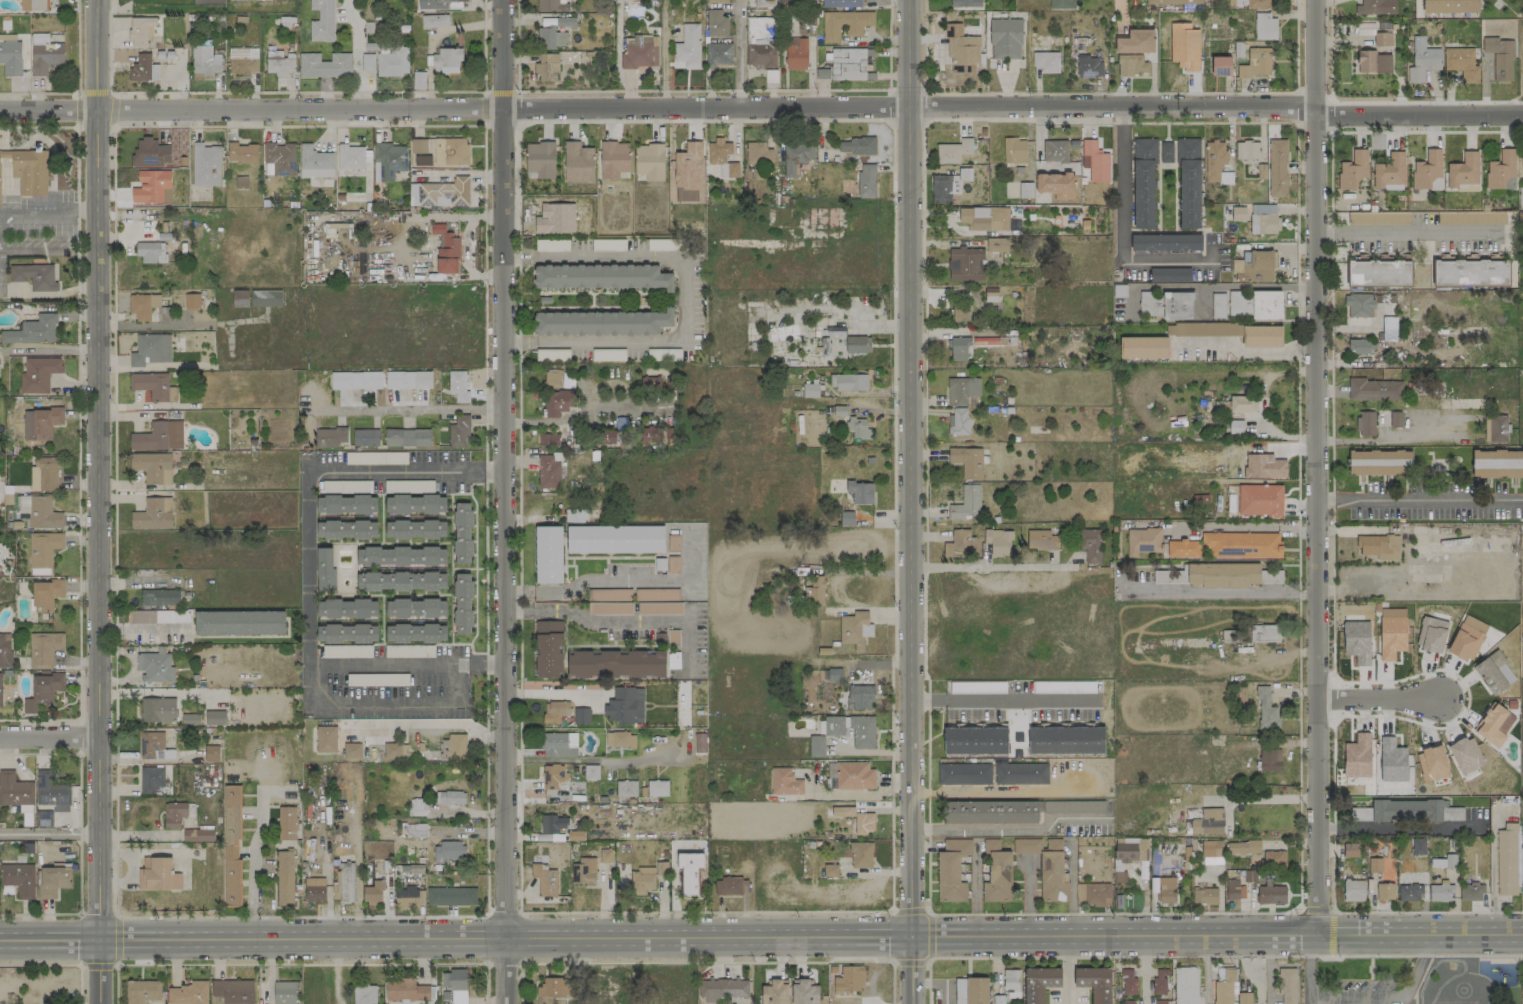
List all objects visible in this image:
building: (232, 0)
building: (717, 1)
building: (1174, 2)
building: (840, 3)
building: (1254, 3)
building: (435, 4)
building: (1061, 4)
building: (32, 5)
building: (551, 5)
building: (1449, 5)
building: (1376, 7)
road: (361, 13)
building: (321, 21)
building: (434, 21)
building: (716, 23)
building: (845, 24)
building: (1265, 27)
building: (140, 30)
building: (550, 36)
building: (7, 37)
building: (1005, 39)
building: (1382, 39)
building: (1176, 40)
building: (1135, 41)
building: (760, 43)
road: (76, 45)
road: (483, 45)
road: (890, 45)
road: (517, 46)
building: (687, 48)
building: (1191, 48)
building: (963, 50)
building: (640, 52)
road: (737, 53)
building: (44, 54)
building: (796, 54)
building: (718, 55)
building: (10, 58)
road: (354, 58)
building: (1500, 58)
building: (204, 60)
building: (446, 60)
building: (1422, 60)
building: (243, 61)
building: (1046, 61)
building: (279, 62)
building: (367, 62)
building: (393, 62)
building: (1373, 62)
building: (1256, 63)
building: (1461, 63)
building: (850, 64)
building: (1131, 65)
building: (324, 66)
building: (1220, 66)
building: (547, 67)
building: (1089, 67)
building: (140, 68)
road: (92, 90)
road: (705, 90)
road: (250, 92)
road: (484, 92)
road: (762, 107)
road: (76, 110)
road: (113, 111)
road: (1292, 122)
road: (519, 125)
building: (857, 146)
building: (1014, 150)
building: (1247, 150)
building: (953, 151)
building: (1055, 151)
building: (718, 152)
building: (1166, 152)
building: (150, 153)
building: (241, 153)
building: (439, 153)
building: (758, 153)
building: (350, 157)
building: (796, 157)
building: (280, 158)
building: (540, 159)
building: (613, 159)
building: (1214, 160)
building: (388, 161)
building: (649, 161)
building: (315, 162)
building: (578, 162)
building: (1094, 162)
building: (1522, 162)
building: (205, 165)
building: (1277, 168)
building: (732, 169)
building: (1353, 169)
building: (28, 170)
building: (1389, 171)
building: (1427, 171)
building: (1501, 171)
building: (687, 172)
building: (1463, 173)
building: (866, 180)
building: (1143, 182)
building: (1188, 183)
building: (1056, 185)
building: (948, 186)
building: (152, 188)
building: (1022, 192)
building: (440, 193)
road: (46, 210)
building: (1238, 213)
building: (555, 218)
building: (1377, 218)
building: (1471, 218)
building: (985, 219)
building: (1263, 219)
road: (1123, 230)
road: (1408, 234)
building: (1165, 242)
building: (996, 245)
building: (444, 249)
building: (151, 252)
building: (966, 264)
building: (1255, 266)
building: (1378, 273)
building: (1470, 273)
building: (34, 276)
building: (601, 277)
road: (1227, 286)
road: (682, 297)
building: (239, 298)
building: (265, 298)
building: (191, 301)
building: (1255, 304)
building: (1166, 305)
building: (1359, 305)
building: (142, 306)
building: (1218, 306)
building: (960, 315)
building: (601, 323)
road: (879, 326)
building: (1389, 328)
building: (32, 330)
building: (834, 330)
building: (1233, 332)
road: (114, 337)
building: (858, 344)
building: (1358, 346)
building: (1143, 347)
building: (958, 348)
building: (150, 350)
road: (1244, 351)
building: (38, 374)
building: (409, 379)
building: (552, 379)
building: (356, 380)
building: (650, 382)
building: (849, 382)
building: (153, 386)
building: (458, 386)
building: (810, 390)
building: (961, 390)
building: (1374, 390)
building: (558, 402)
building: (1242, 404)
road: (410, 408)
road: (550, 421)
building: (958, 421)
building: (40, 423)
building: (1365, 424)
road: (77, 425)
building: (1496, 428)
building: (858, 429)
building: (459, 431)
building: (654, 435)
building: (158, 437)
building: (329, 437)
building: (365, 437)
building: (407, 437)
building: (607, 437)
building: (548, 440)
road: (1382, 440)
building: (967, 462)
building: (1379, 462)
building: (1497, 464)
building: (155, 466)
building: (1264, 467)
road: (1315, 467)
building: (549, 470)
building: (44, 475)
building: (860, 492)
building: (1259, 500)
road: (1419, 500)
road: (96, 502)
road: (504, 502)
road: (910, 502)
building: (966, 503)
building: (346, 504)
building: (415, 504)
building: (43, 513)
building: (155, 515)
road: (484, 521)
road: (1244, 528)
building: (415, 529)
building: (346, 530)
building: (462, 533)
building: (615, 539)
building: (1041, 539)
building: (1143, 541)
building: (960, 542)
building: (998, 542)
building: (673, 544)
building: (1090, 545)
building: (1242, 545)
building: (1379, 547)
building: (43, 548)
building: (1183, 548)
building: (548, 555)
building: (401, 556)
road: (989, 565)
road: (308, 568)
building: (325, 569)
building: (0, 573)
building: (1222, 575)
road: (632, 579)
building: (401, 581)
road: (134, 582)
building: (815, 590)
road: (518, 592)
building: (45, 594)
road: (1221, 594)
building: (159, 598)
building: (462, 604)
building: (346, 608)
building: (415, 608)
road: (518, 612)
road: (632, 621)
building: (239, 623)
road: (140, 627)
building: (855, 630)
building: (346, 633)
building: (415, 633)
building: (1263, 633)
building: (1391, 633)
building: (1431, 635)
building: (1467, 638)
building: (1357, 641)
building: (44, 649)
building: (548, 649)
building: (5, 650)
building: (615, 664)
building: (154, 666)
building: (1490, 672)
building: (831, 675)
building: (46, 686)
building: (0, 690)
road: (546, 694)
road: (1381, 696)
building: (859, 697)
road: (1003, 699)
building: (625, 706)
building: (158, 710)
building: (1266, 710)
building: (555, 711)
building: (581, 715)
building: (214, 718)
building: (189, 719)
building: (1494, 724)
building: (852, 729)
road: (49, 737)
building: (325, 739)
building: (620, 740)
building: (975, 740)
building: (1065, 740)
building: (699, 742)
building: (558, 745)
building: (816, 745)
building: (152, 746)
building: (453, 747)
building: (352, 751)
building: (395, 751)
building: (211, 753)
building: (1465, 755)
building: (1357, 757)
building: (1269, 759)
road: (590, 760)
building: (1392, 761)
building: (1432, 763)
building: (591, 772)
building: (1020, 773)
building: (964, 774)
building: (853, 775)
building: (553, 776)
building: (150, 779)
building: (785, 782)
building: (626, 788)
building: (657, 788)
building: (14, 790)
road: (1004, 791)
building: (51, 792)
building: (450, 797)
road: (1262, 798)
building: (1068, 806)
building: (417, 807)
building: (1414, 810)
building: (989, 812)
building: (1360, 814)
building: (174, 815)
building: (856, 819)
building: (1206, 821)
building: (286, 823)
building: (553, 823)
road: (1400, 827)
road: (1011, 829)
building: (415, 830)
road: (77, 833)
road: (48, 834)
building: (201, 835)
road: (254, 843)
building: (231, 846)
building: (1418, 846)
building: (1243, 848)
building: (1211, 849)
building: (1131, 850)
building: (1350, 850)
building: (447, 851)
building: (861, 855)
building: (605, 856)
building: (1274, 859)
building: (1506, 860)
building: (1375, 865)
building: (1049, 868)
building: (830, 870)
building: (952, 870)
building: (583, 871)
building: (689, 873)
building: (997, 873)
building: (158, 874)
building: (284, 877)
building: (19, 879)
building: (544, 879)
building: (52, 881)
building: (346, 882)
building: (641, 882)
building: (731, 886)
road: (1493, 887)
building: (1522, 888)
building: (1234, 889)
building: (314, 890)
road: (674, 890)
road: (972, 890)
building: (1165, 890)
building: (1353, 890)
building: (1385, 891)
building: (1471, 892)
building: (374, 893)
building: (1409, 893)
building: (1440, 893)
building: (1093, 894)
building: (1271, 894)
building: (451, 896)
building: (1204, 896)
building: (406, 897)
road: (1026, 898)
road: (1330, 914)
road: (927, 935)
road: (761, 937)
road: (1202, 955)
road: (117, 959)
road: (1065, 969)
road: (1308, 969)
road: (1143, 970)
road: (1205, 970)
building: (849, 979)
building: (1010, 979)
building: (1128, 982)
building: (1159, 982)
building: (1039, 983)
building: (1094, 983)
building: (455, 985)
building: (1185, 985)
building: (1286, 986)
building: (552, 987)
building: (1224, 988)
building: (722, 989)
building: (405, 990)
building: (970, 990)
building: (142, 991)
building: (233, 991)
building: (284, 992)
building: (774, 992)
building: (805, 992)
building: (188, 993)
building: (364, 994)
road: (1388, 997)
building: (1244, 998)
building: (1130, 1002)
building: (1158, 1002)

